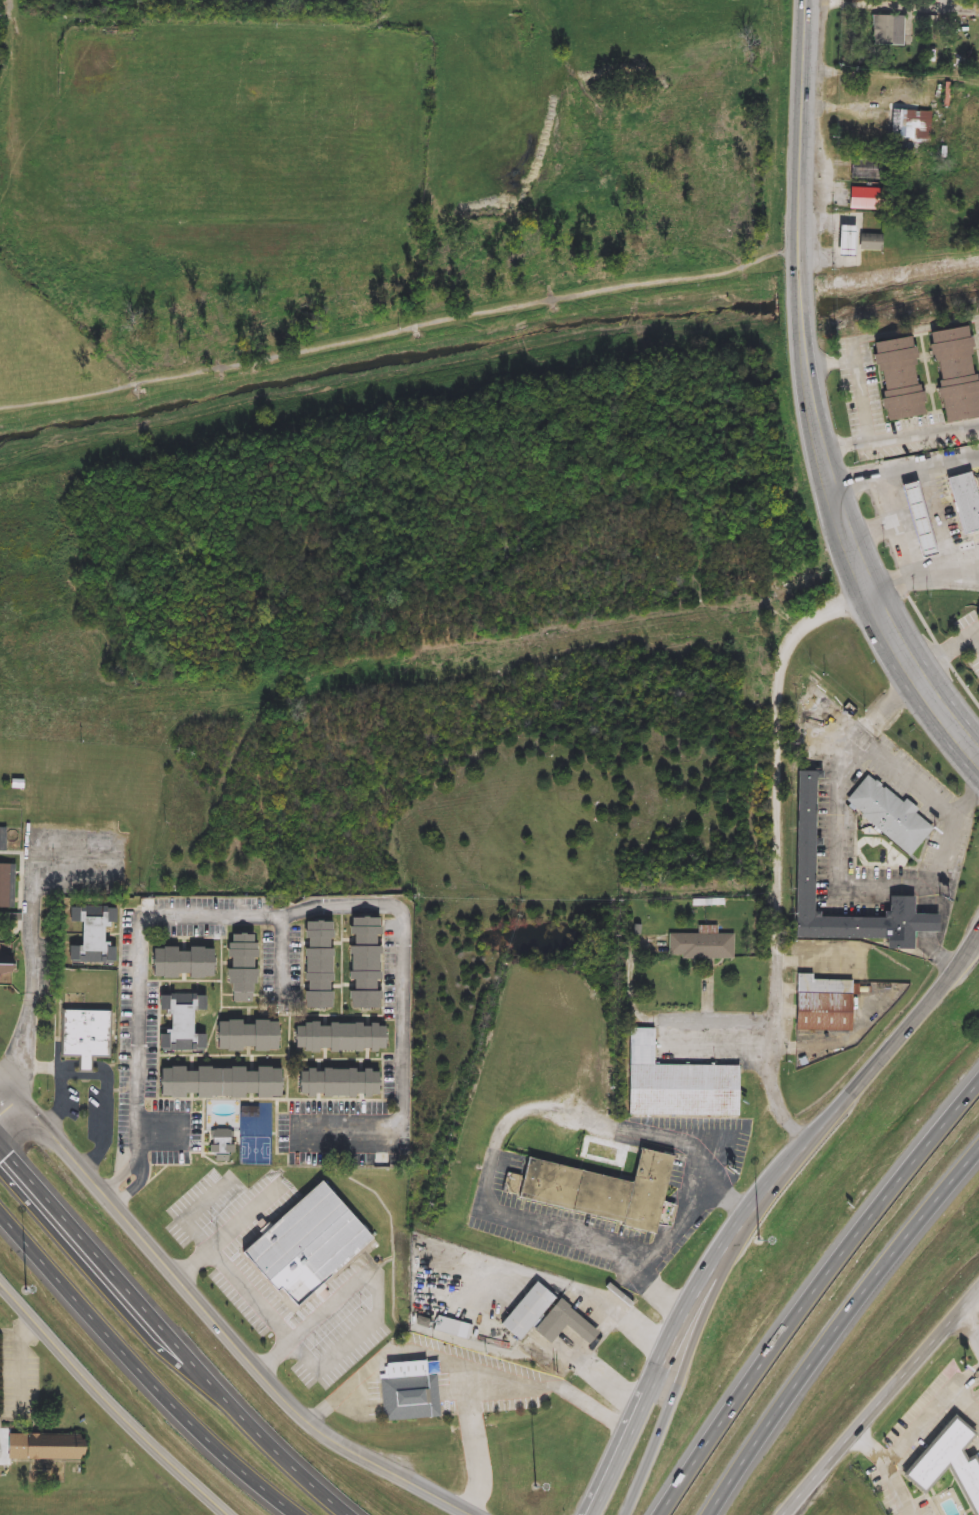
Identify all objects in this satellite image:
building: (231, 0)
road: (911, 6)
building: (887, 31)
building: (912, 126)
road: (803, 132)
building: (868, 169)
building: (867, 199)
building: (844, 241)
building: (868, 243)
park: (414, 252)
road: (800, 312)
road: (910, 329)
building: (953, 374)
road: (859, 376)
building: (896, 378)
road: (410, 392)
road: (901, 438)
road: (905, 469)
road: (830, 475)
building: (965, 502)
gas station: (917, 520)
building: (917, 521)
road: (869, 527)
road: (893, 527)
road: (924, 577)
road: (882, 615)
road: (977, 633)
road: (977, 637)
road: (946, 654)
road: (934, 702)
road: (778, 762)
road: (968, 801)
building: (889, 815)
building: (803, 833)
building: (3, 839)
parking lot: (66, 875)
road: (864, 885)
building: (7, 887)
road: (344, 906)
road: (944, 920)
building: (90, 933)
road: (976, 939)
building: (701, 946)
road: (284, 952)
building: (182, 962)
building: (362, 962)
building: (317, 965)
building: (240, 967)
building: (4, 968)
road: (34, 971)
building: (821, 1004)
road: (716, 1019)
building: (181, 1020)
building: (83, 1035)
building: (246, 1035)
building: (338, 1036)
road: (733, 1047)
road: (780, 1066)
road: (109, 1079)
building: (219, 1082)
building: (336, 1082)
building: (676, 1083)
road: (15, 1087)
road: (15, 1117)
road: (140, 1133)
road: (501, 1135)
road: (123, 1177)
road: (137, 1187)
building: (602, 1191)
road: (756, 1205)
road: (681, 1225)
road: (230, 1234)
building: (305, 1245)
street lamp: (758, 1246)
street lamp: (25, 1289)
road: (815, 1296)
building: (525, 1310)
road: (972, 1314)
building: (563, 1324)
building: (452, 1327)
road: (836, 1328)
road: (171, 1333)
road: (231, 1334)
road: (596, 1341)
road: (673, 1357)
road: (330, 1360)
road: (466, 1363)
road: (141, 1366)
building: (410, 1391)
road: (669, 1397)
road: (879, 1400)
road: (111, 1401)
road: (969, 1404)
road: (932, 1415)
road: (477, 1441)
building: (37, 1446)
building: (947, 1464)
road: (890, 1467)
street lamp: (537, 1486)

